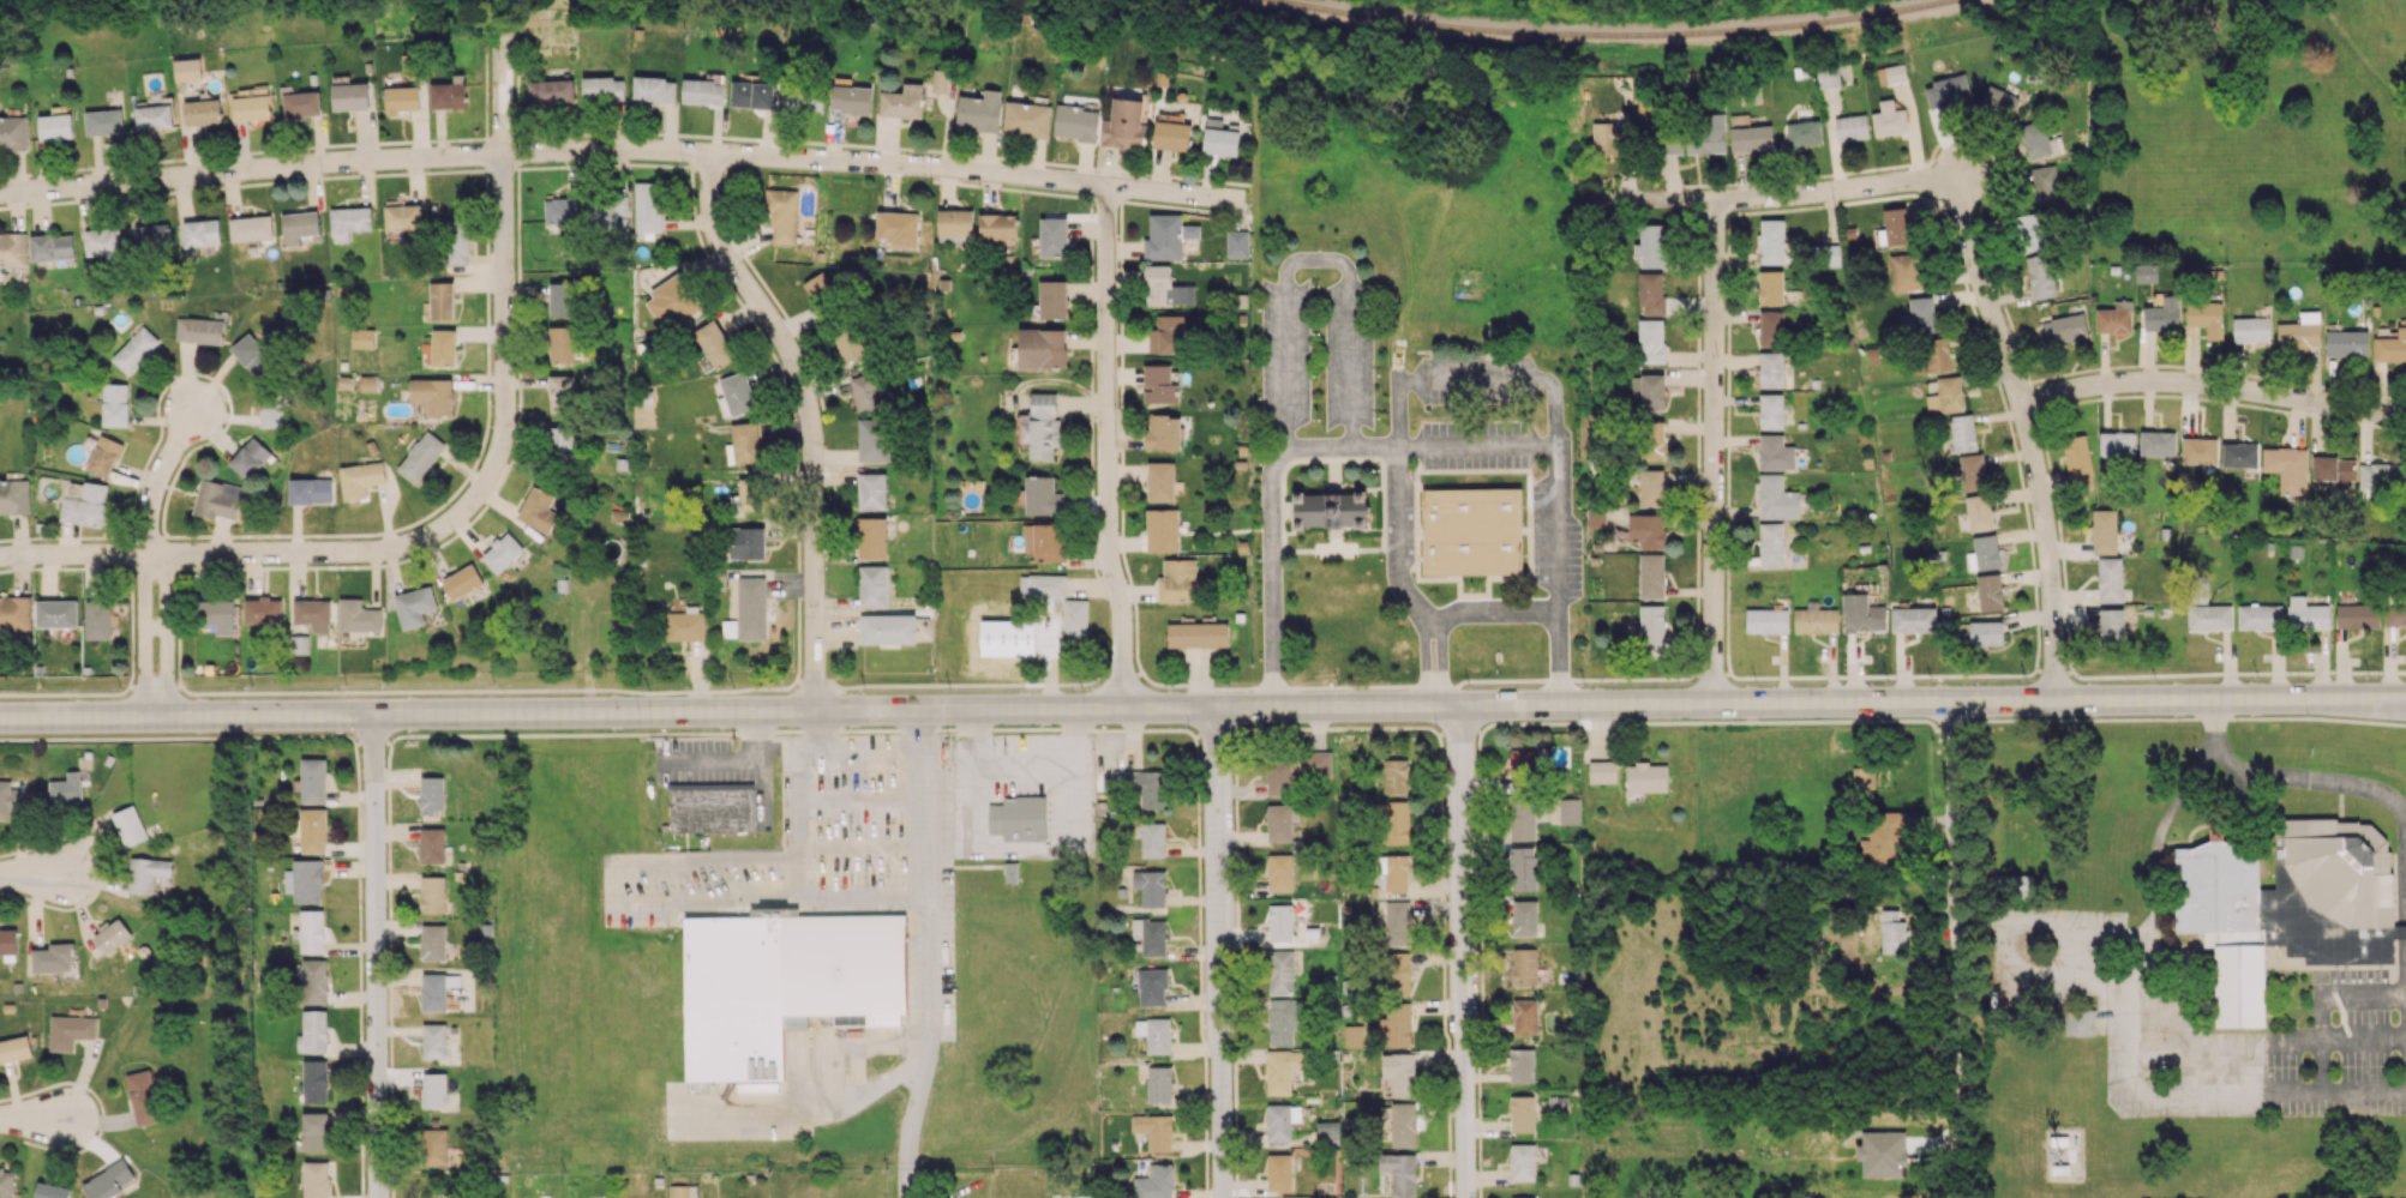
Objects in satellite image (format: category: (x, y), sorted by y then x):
park: (2404, 5)
railway: (1615, 35)
building: (187, 68)
building: (1891, 73)
building: (1828, 76)
building: (941, 80)
building: (604, 89)
building: (654, 89)
building: (551, 90)
building: (703, 91)
building: (1946, 91)
building: (752, 94)
building: (449, 95)
building: (350, 96)
building: (401, 98)
building: (851, 98)
building: (802, 100)
building: (902, 101)
building: (1999, 102)
building: (301, 103)
building: (251, 107)
building: (202, 112)
building: (979, 112)
building: (154, 116)
building: (1026, 119)
building: (1889, 119)
building: (103, 121)
building: (1075, 122)
building: (1124, 124)
building: (55, 126)
building: (1852, 127)
building: (13, 132)
building: (1172, 132)
park: (2248, 132)
building: (1804, 133)
building: (1708, 134)
building: (1609, 136)
building: (1219, 138)
building: (1751, 138)
building: (2039, 140)
building: (1669, 143)
road: (625, 149)
building: (2045, 183)
road: (1774, 195)
building: (647, 206)
building: (559, 210)
building: (781, 213)
building: (401, 215)
building: (606, 215)
building: (348, 222)
building: (955, 224)
building: (299, 225)
building: (2032, 225)
building: (998, 227)
building: (1896, 227)
building: (251, 228)
building: (898, 228)
building: (1190, 230)
building: (152, 235)
building: (199, 235)
building: (1052, 237)
building: (1164, 237)
building: (455, 241)
building: (1771, 241)
building: (103, 242)
building: (1237, 243)
building: (1651, 246)
building: (52, 247)
building: (12, 249)
building: (1906, 271)
building: (2146, 272)
road: (503, 276)
building: (2040, 276)
building: (818, 287)
building: (1770, 287)
building: (1166, 288)
building: (1650, 294)
building: (562, 299)
building: (1052, 299)
building: (440, 300)
building: (671, 302)
building: (2162, 314)
building: (1919, 315)
building: (2114, 318)
building: (2206, 318)
building: (1771, 327)
building: (2069, 327)
building: (2251, 329)
building: (199, 330)
building: (2300, 331)
building: (1168, 335)
building: (362, 338)
building: (1650, 341)
building: (562, 343)
building: (714, 343)
building: (2346, 343)
building: (851, 344)
building: (443, 347)
building: (1042, 348)
building: (134, 349)
building: (1936, 354)
building: (252, 355)
building: (1462, 367)
building: (1771, 369)
building: (368, 383)
building: (1159, 384)
road: (2212, 384)
building: (1649, 390)
building: (865, 391)
building: (562, 393)
building: (433, 395)
building: (737, 395)
building: (1946, 396)
building: (115, 404)
building: (271, 409)
building: (1771, 410)
road: (809, 420)
building: (1040, 426)
building: (1164, 432)
building: (1962, 433)
road: (2028, 437)
building: (872, 439)
building: (1651, 439)
building: (746, 443)
road: (1418, 443)
building: (2158, 443)
building: (559, 444)
building: (2117, 444)
road: (1106, 447)
building: (2200, 450)
road: (1712, 451)
building: (1775, 452)
building: (2239, 454)
building: (104, 456)
building: (421, 456)
building: (250, 457)
building: (2077, 460)
building: (2287, 468)
building: (2334, 470)
building: (1973, 471)
road: (157, 476)
building: (2382, 477)
building: (360, 478)
building: (1160, 481)
building: (1651, 487)
building: (310, 490)
building: (871, 490)
building: (748, 493)
building: (13, 495)
building: (1043, 496)
building: (1776, 498)
building: (220, 499)
building: (85, 505)
building: (1332, 508)
building: (538, 510)
building: (1979, 512)
building: (1595, 516)
building: (1162, 529)
building: (1646, 530)
building: (2104, 530)
building: (1471, 531)
building: (871, 537)
building: (1045, 541)
building: (746, 542)
building: (1771, 544)
road: (236, 552)
building: (502, 552)
building: (1984, 553)
building: (1651, 576)
building: (1180, 579)
building: (2110, 579)
road: (1398, 580)
building: (462, 582)
building: (1043, 585)
building: (872, 586)
building: (1990, 591)
building: (414, 606)
building: (751, 607)
building: (263, 610)
building: (14, 613)
building: (56, 613)
road: (1494, 613)
building: (1861, 613)
building: (217, 614)
building: (313, 614)
building: (2306, 614)
building: (2395, 614)
building: (358, 615)
building: (2357, 615)
building: (1074, 616)
building: (2260, 616)
building: (2209, 618)
building: (98, 619)
building: (1913, 619)
building: (1766, 620)
building: (1816, 620)
building: (686, 624)
building: (2111, 625)
building: (887, 628)
road: (167, 631)
building: (1654, 631)
building: (1986, 632)
road: (145, 633)
building: (1198, 634)
building: (299, 644)
road: (1388, 706)
road: (185, 714)
road: (874, 748)
building: (1318, 764)
parking lot: (719, 766)
building: (1523, 767)
building: (1602, 771)
building: (1282, 773)
building: (1396, 776)
building: (1646, 777)
building: (1864, 777)
road: (2287, 777)
building: (313, 779)
building: (1141, 785)
building: (66, 788)
building: (431, 794)
building: (11, 797)
building: (713, 808)
building: (1570, 811)
building: (1025, 817)
building: (1522, 819)
building: (1279, 821)
building: (1392, 823)
building: (128, 825)
building: (313, 830)
building: (1883, 837)
building: (1152, 839)
building: (432, 845)
road: (800, 861)
building: (1523, 868)
building: (1393, 871)
building: (1279, 872)
building: (145, 873)
road: (34, 874)
building: (305, 880)
building: (2015, 884)
building: (1151, 886)
building: (432, 893)
building: (2286, 904)
building: (1524, 917)
building: (1280, 922)
building: (1398, 922)
building: (312, 931)
building: (1891, 932)
building: (110, 935)
building: (1151, 935)
road: (1954, 937)
building: (7, 940)
building: (433, 941)
road: (1462, 951)
road: (1224, 952)
road: (932, 955)
road: (373, 956)
building: (53, 957)
building: (1524, 965)
building: (1280, 971)
building: (1397, 973)
building: (314, 981)
building: (782, 982)
building: (1152, 987)
building: (433, 992)
building: (1525, 1016)
building: (1283, 1021)
building: (2078, 1022)
building: (1397, 1024)
building: (314, 1030)
building: (70, 1031)
building: (1154, 1034)
building: (1352, 1035)
building: (433, 1041)
building: (14, 1048)
building: (1520, 1065)
road: (2123, 1066)
building: (1282, 1070)
building: (1399, 1072)
building: (314, 1080)
building: (1159, 1084)
building: (433, 1089)
building: (143, 1097)
building: (1522, 1113)
road: (35, 1119)
building: (1280, 1120)
building: (1403, 1124)
building: (1154, 1130)
building: (314, 1131)
building: (1327, 1131)
building: (434, 1146)
building: (1882, 1154)
building: (1523, 1162)
building: (1279, 1172)
building: (1400, 1172)
building: (316, 1179)
building: (109, 1180)
building: (1156, 1182)
building: (6, 1184)
building: (50, 1191)
building: (683, 1191)
building: (1524, 1197)

